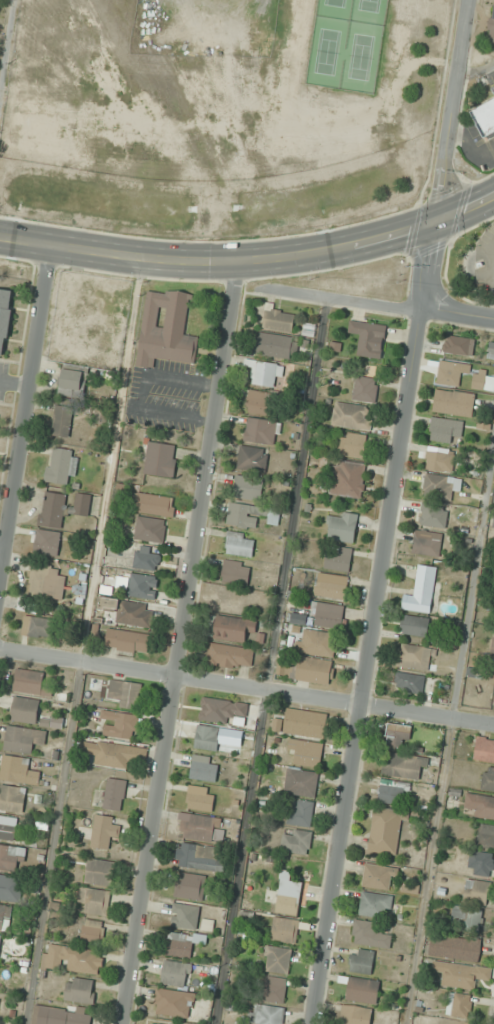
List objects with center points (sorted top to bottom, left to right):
building: (491, 26)
road: (6, 43)
road: (476, 69)
road: (468, 147)
road: (444, 155)
traffic signals: (435, 223)
road: (251, 260)
road: (346, 300)
road: (457, 315)
building: (5, 317)
building: (279, 319)
building: (165, 328)
building: (369, 338)
building: (277, 345)
building: (458, 345)
building: (265, 372)
building: (451, 373)
building: (483, 380)
building: (72, 382)
road: (14, 383)
building: (365, 389)
building: (260, 402)
building: (453, 402)
road: (24, 407)
building: (101, 416)
building: (351, 416)
building: (62, 420)
building: (444, 430)
building: (261, 431)
building: (354, 445)
building: (253, 458)
building: (160, 459)
building: (439, 461)
building: (62, 466)
building: (348, 478)
building: (440, 486)
building: (248, 487)
building: (82, 504)
building: (154, 504)
building: (53, 509)
building: (250, 515)
building: (433, 515)
building: (342, 527)
building: (151, 529)
building: (47, 542)
building: (427, 542)
building: (239, 543)
road: (1, 550)
building: (147, 558)
building: (339, 558)
building: (236, 571)
road: (472, 576)
building: (46, 581)
building: (143, 585)
building: (331, 585)
building: (79, 590)
building: (421, 591)
building: (129, 611)
building: (327, 615)
building: (415, 625)
building: (38, 626)
building: (233, 627)
building: (127, 640)
road: (84, 641)
building: (318, 642)
road: (180, 643)
building: (493, 646)
building: (230, 655)
building: (414, 656)
road: (269, 660)
road: (363, 667)
building: (312, 670)
building: (31, 682)
building: (409, 682)
road: (246, 687)
building: (126, 692)
building: (25, 709)
building: (224, 711)
building: (306, 723)
building: (120, 724)
building: (398, 735)
building: (208, 737)
building: (24, 739)
building: (484, 749)
building: (307, 752)
building: (108, 753)
building: (404, 765)
building: (204, 768)
building: (19, 770)
building: (488, 778)
building: (301, 782)
building: (393, 792)
building: (115, 794)
building: (12, 797)
building: (200, 798)
building: (479, 805)
building: (301, 812)
building: (8, 827)
building: (199, 827)
building: (386, 829)
building: (105, 831)
building: (485, 835)
building: (296, 841)
building: (200, 856)
building: (12, 858)
building: (481, 863)
building: (100, 871)
road: (427, 871)
building: (379, 876)
building: (191, 886)
building: (10, 887)
building: (477, 891)
building: (290, 895)
building: (95, 900)
building: (376, 904)
building: (185, 916)
building: (4, 917)
building: (467, 918)
building: (285, 929)
building: (93, 931)
building: (370, 934)
building: (182, 943)
building: (455, 947)
building: (72, 959)
building: (277, 959)
building: (362, 961)
building: (175, 973)
building: (461, 974)
building: (361, 988)
building: (81, 989)
building: (274, 989)
building: (173, 1003)
building: (459, 1004)
building: (62, 1014)
building: (266, 1014)
building: (355, 1014)

